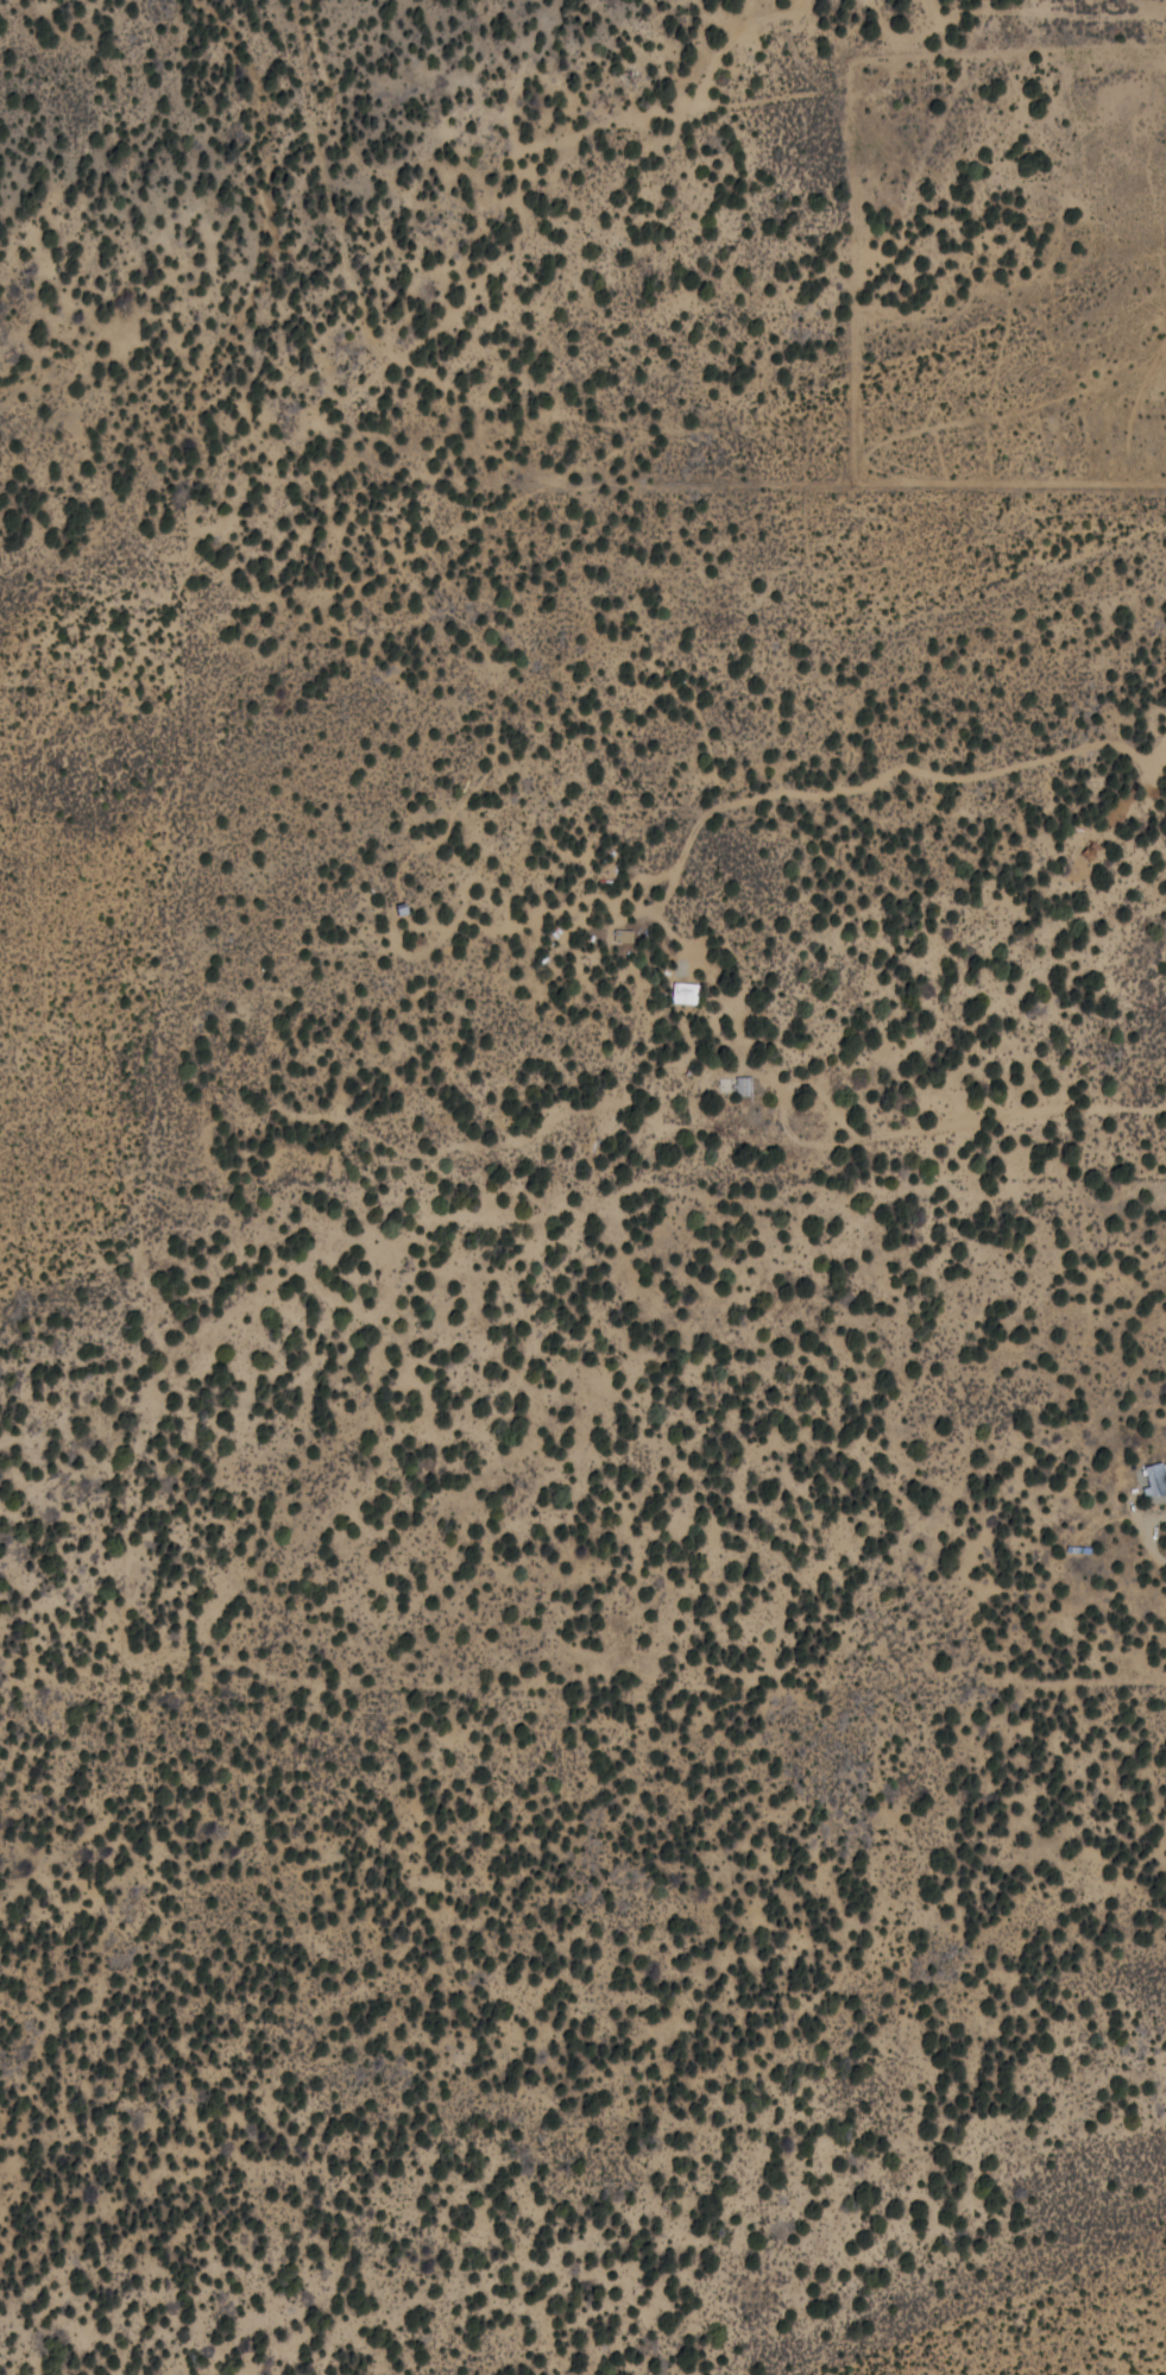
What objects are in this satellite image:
road: (1051, 962)
building: (685, 991)
building: (1154, 1476)

